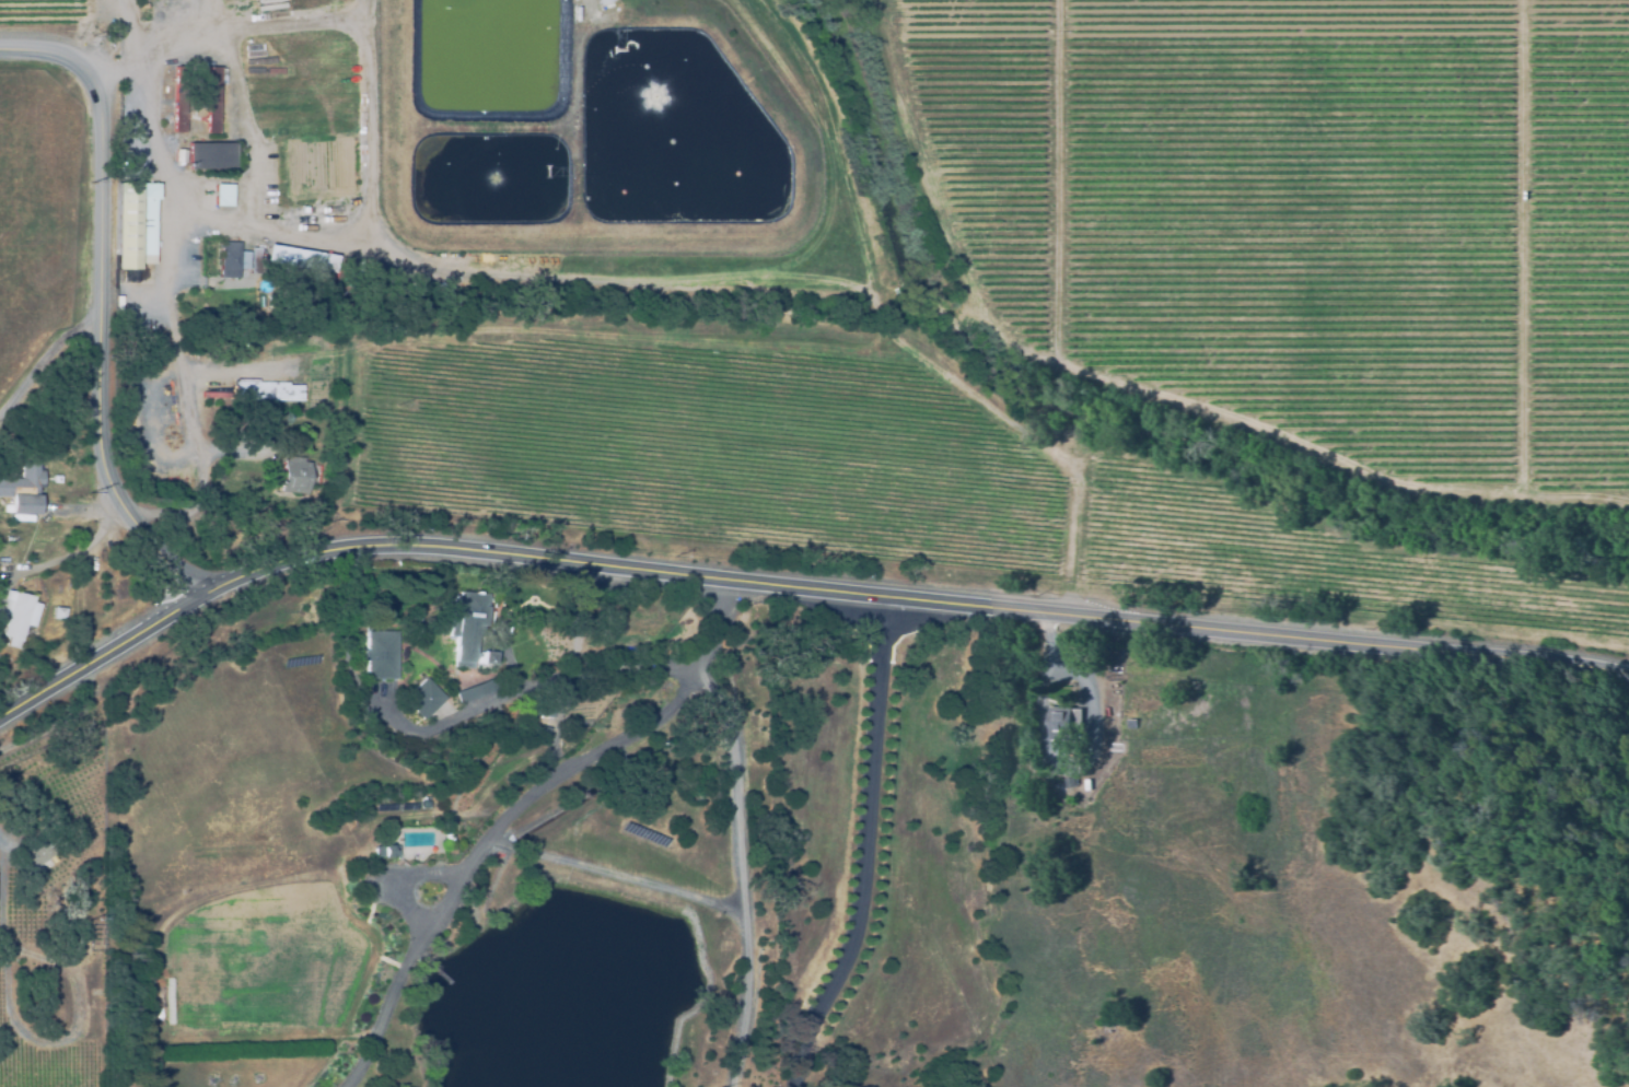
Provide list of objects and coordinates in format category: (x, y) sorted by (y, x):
building: (594, 1)
building: (570, 12)
road: (96, 32)
building: (177, 100)
building: (209, 102)
building: (178, 157)
building: (214, 161)
building: (222, 196)
building: (132, 225)
building: (229, 252)
building: (286, 258)
road: (102, 297)
road: (1140, 385)
building: (216, 394)
building: (246, 430)
building: (293, 477)
building: (57, 478)
building: (23, 489)
road: (918, 600)
building: (58, 613)
building: (16, 618)
building: (468, 630)
road: (101, 647)
building: (380, 657)
road: (526, 683)
building: (476, 691)
building: (423, 699)
building: (546, 709)
building: (1130, 722)
building: (1062, 723)
road: (560, 728)
building: (540, 732)
road: (600, 753)
building: (1054, 767)
building: (1068, 779)
building: (412, 803)
building: (389, 804)
building: (386, 831)
road: (862, 845)
building: (386, 851)
building: (33, 854)
road: (738, 875)
road: (614, 876)
dam: (678, 923)
road: (391, 993)
building: (56, 998)
road: (16, 1019)

